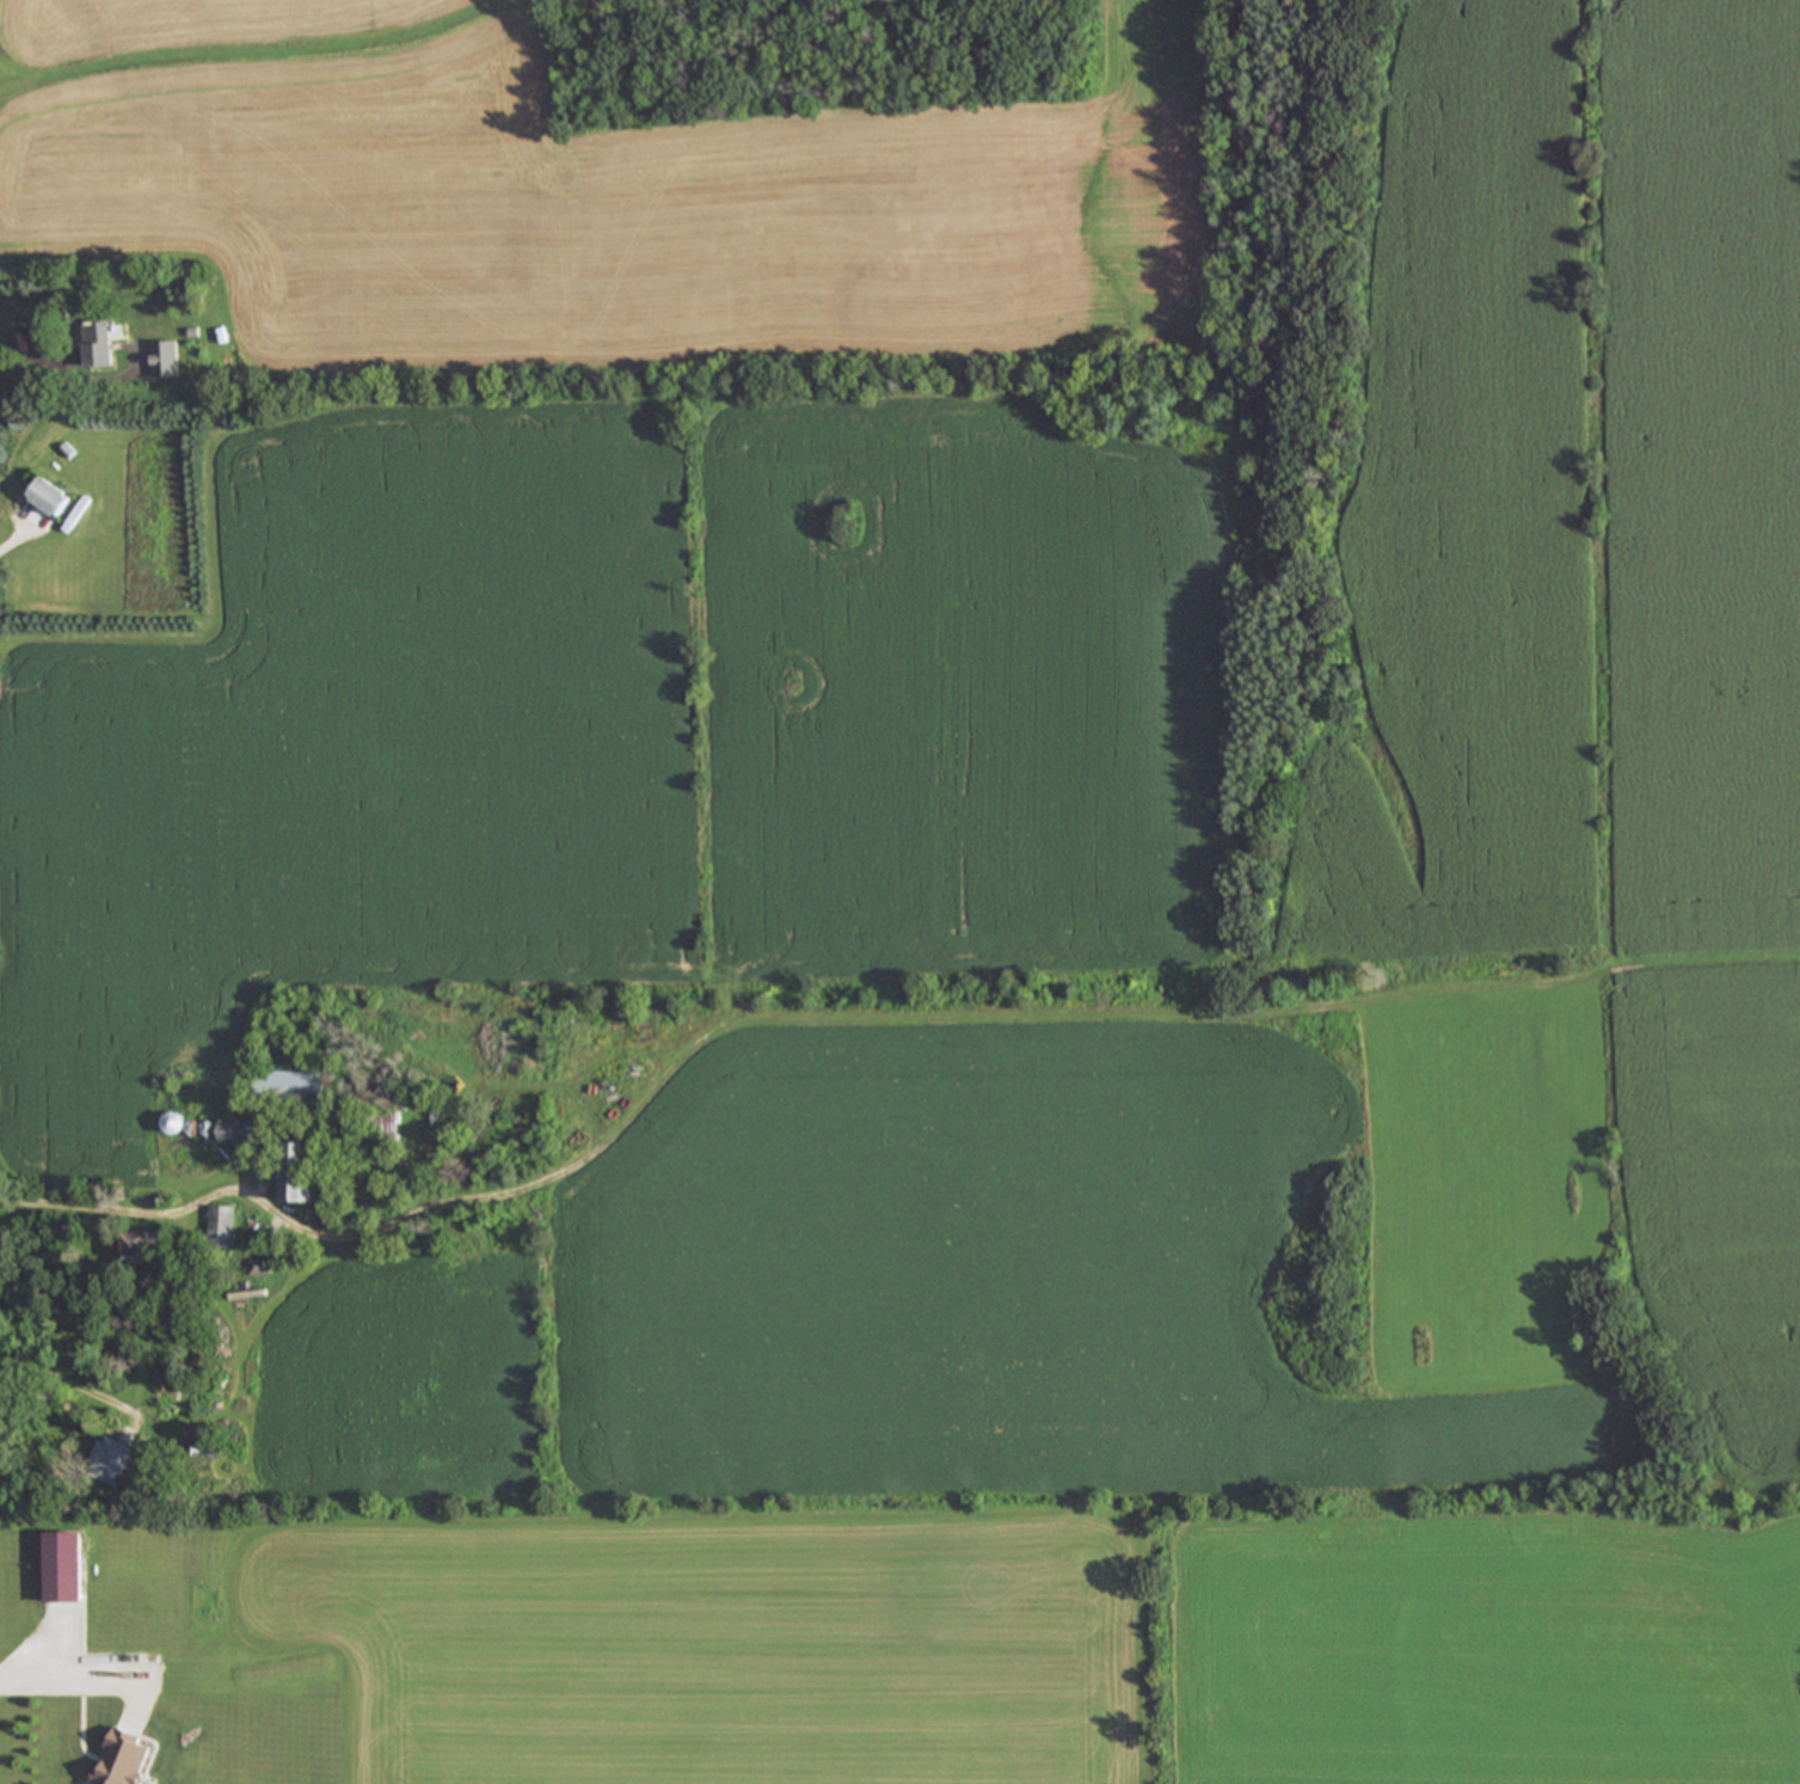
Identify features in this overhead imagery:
building: (100, 348)
road: (33, 352)
building: (166, 362)
building: (53, 499)
road: (17, 538)
building: (294, 1091)
building: (387, 1135)
building: (303, 1175)
road: (116, 1209)
building: (222, 1227)
building: (143, 1249)
building: (262, 1269)
building: (113, 1465)
building: (68, 1571)
road: (62, 1688)
building: (127, 1760)

